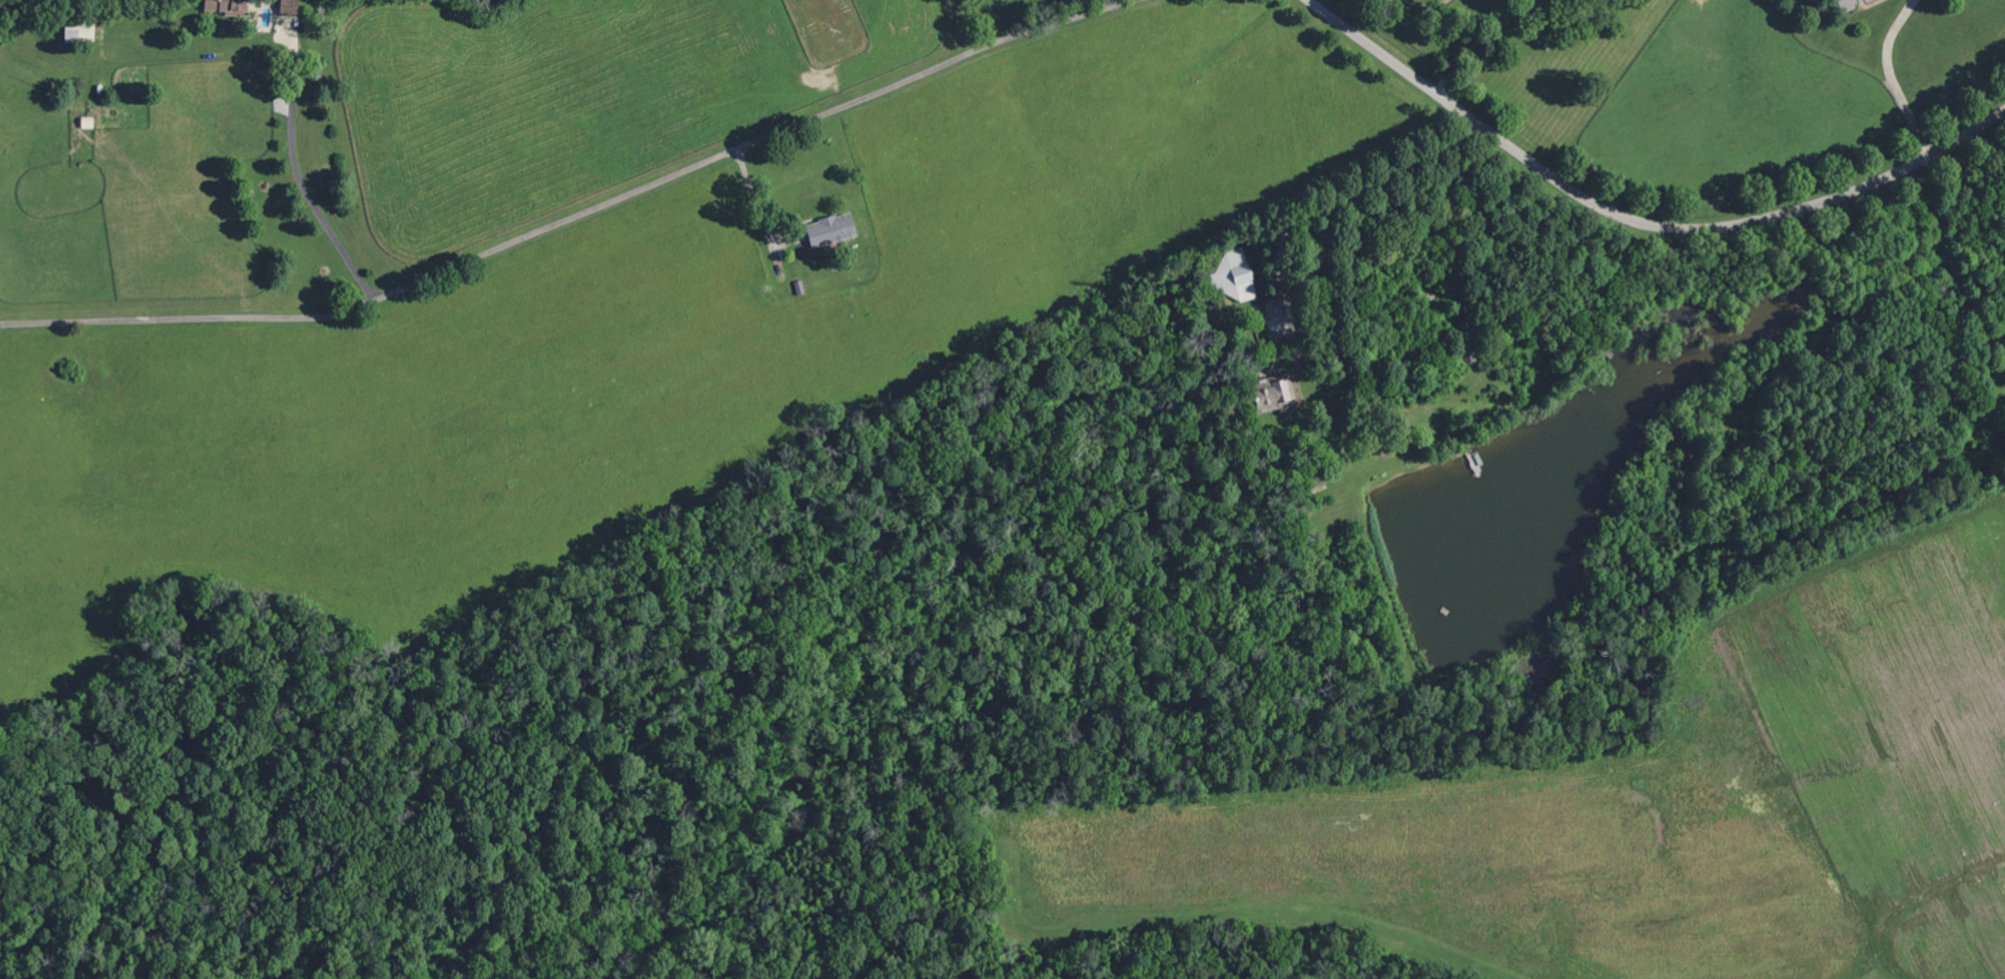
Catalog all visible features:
building: (1851, 4)
building: (225, 7)
building: (287, 7)
building: (79, 28)
road: (1478, 43)
road: (1892, 77)
building: (87, 124)
road: (296, 171)
road: (1355, 192)
road: (757, 204)
road: (581, 213)
road: (1640, 216)
building: (832, 231)
building: (1228, 280)
building: (1469, 356)
building: (1271, 395)
building: (1310, 487)

